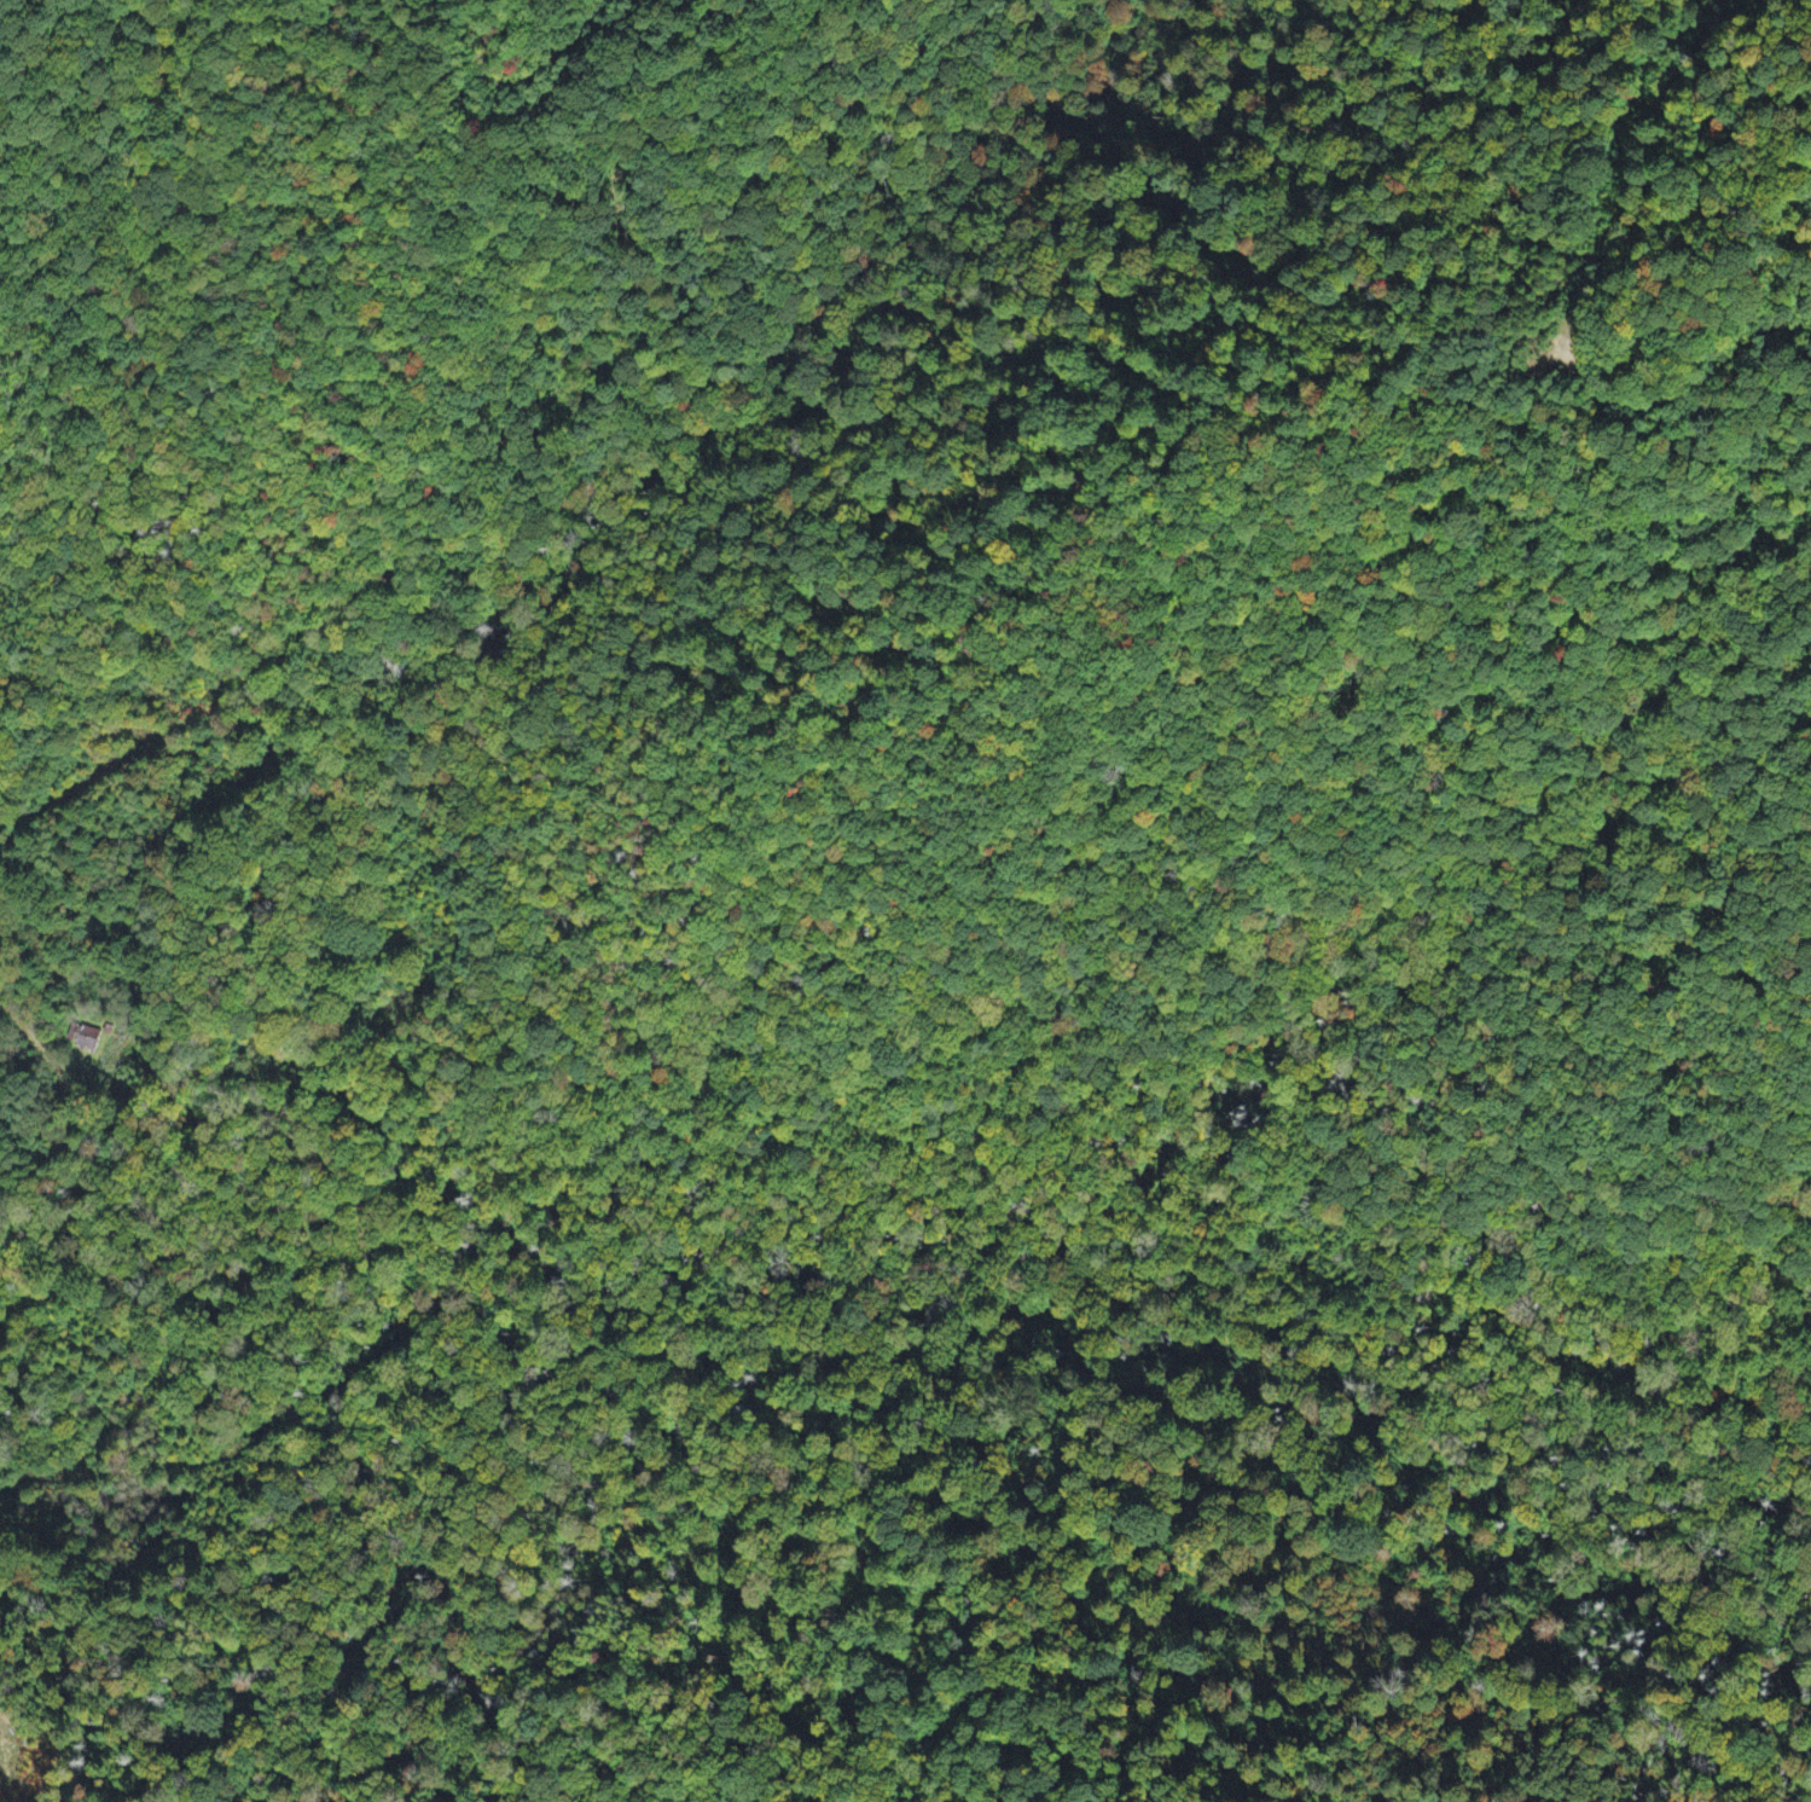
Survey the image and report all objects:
road: (654, 402)
road: (453, 452)
road: (899, 1116)
road: (371, 1257)

